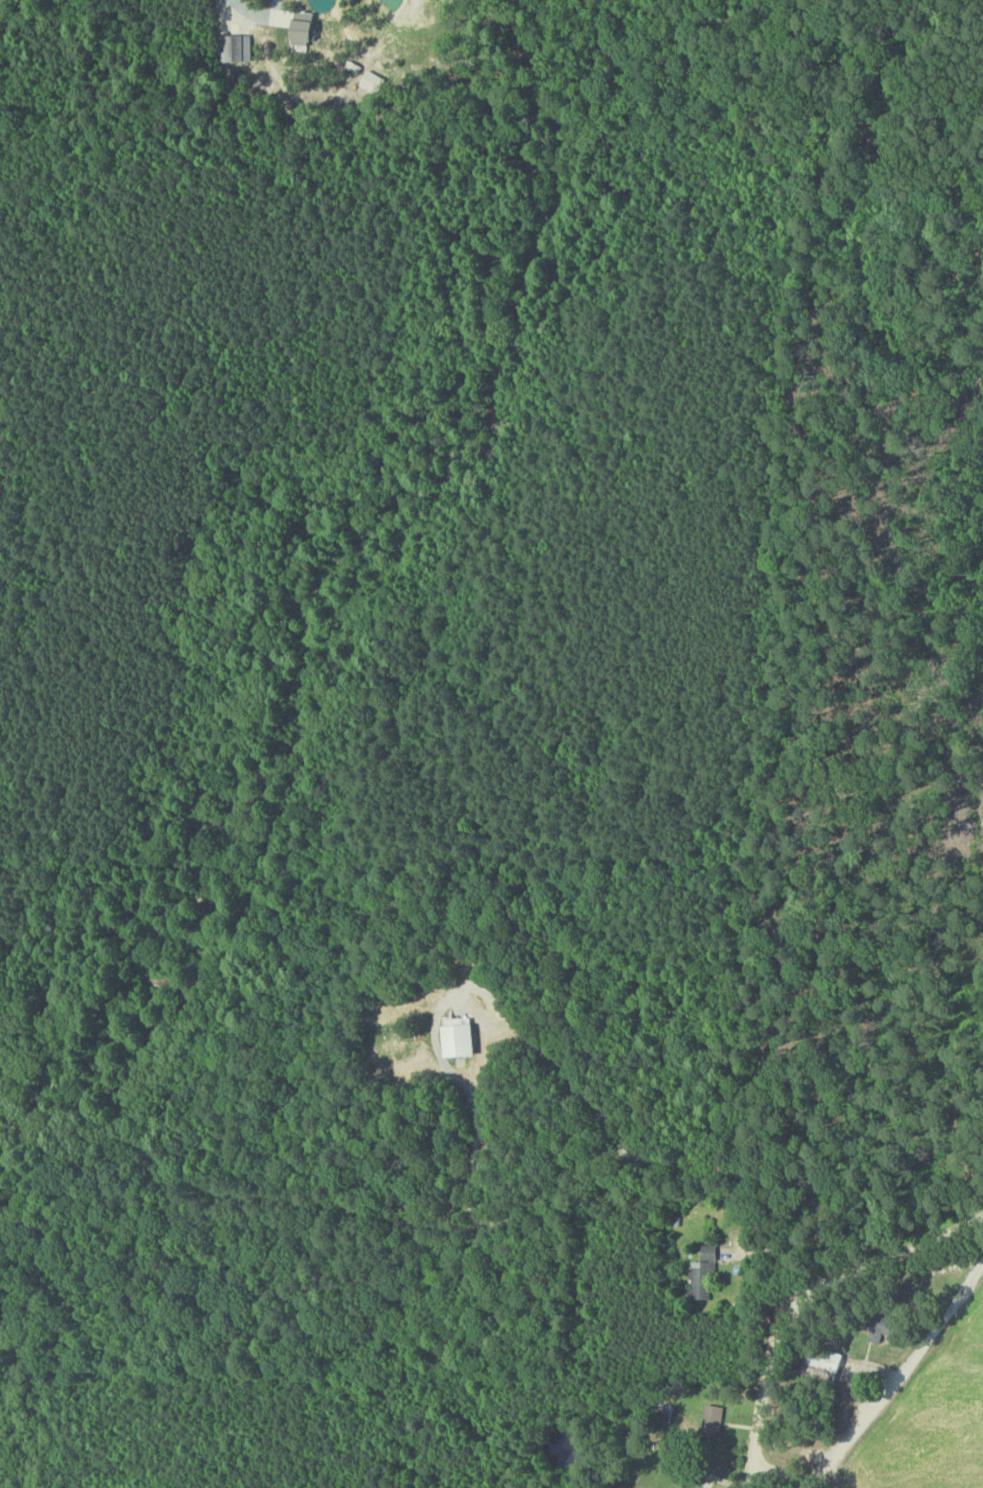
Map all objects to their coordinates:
building: (309, 25)
building: (238, 47)
building: (465, 1041)
road: (661, 1162)
road: (893, 1257)
building: (702, 1277)
building: (896, 1327)
building: (715, 1421)
road: (830, 1461)
road: (753, 1466)
road: (819, 1477)

